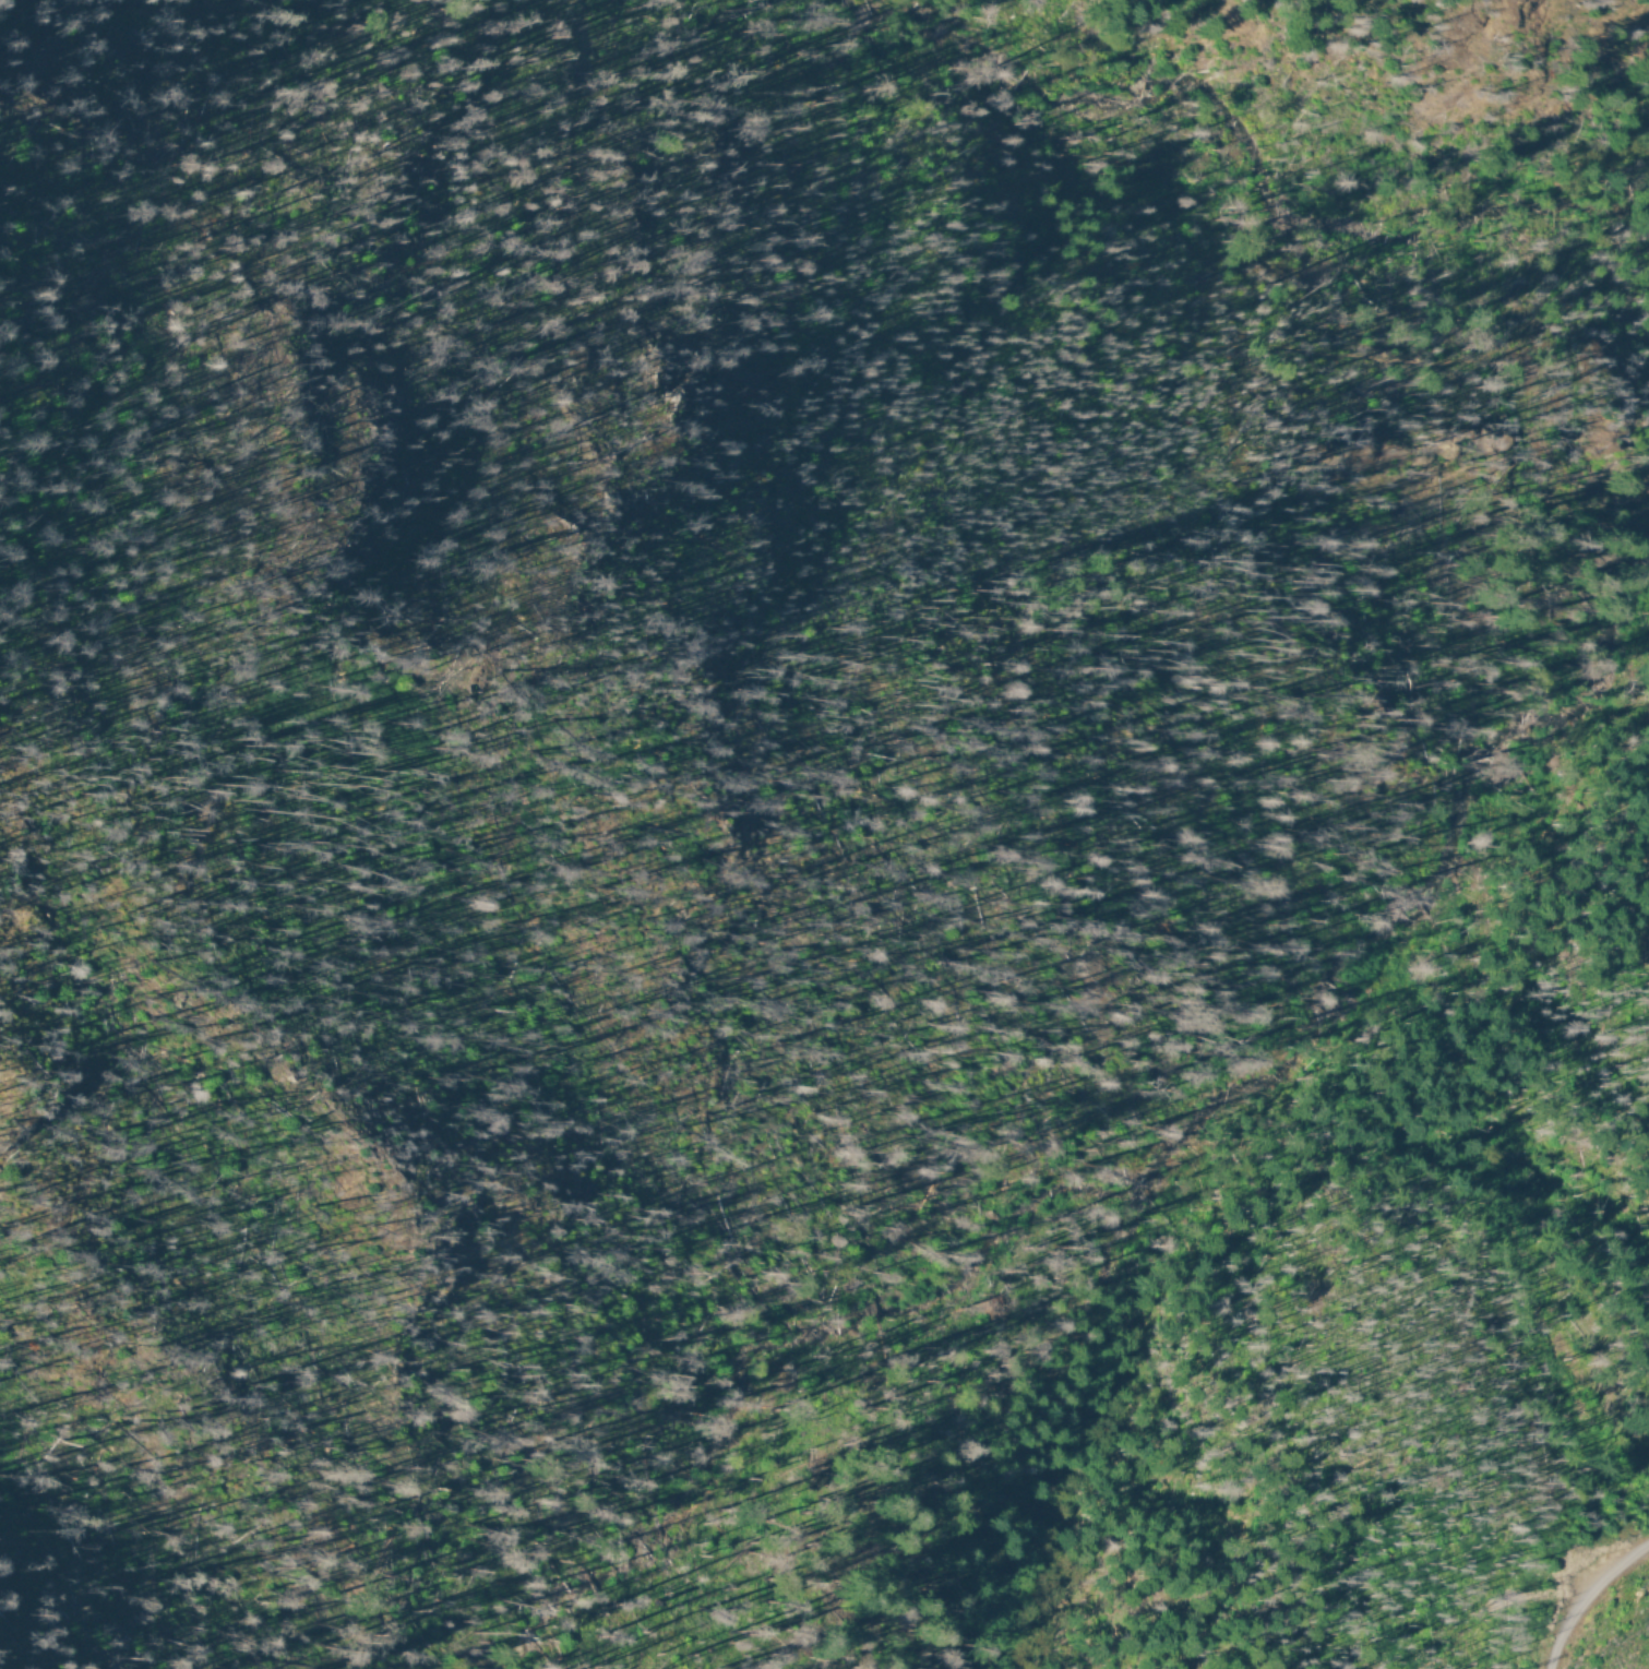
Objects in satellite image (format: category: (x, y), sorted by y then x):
road: (964, 359)
road: (1591, 1599)

